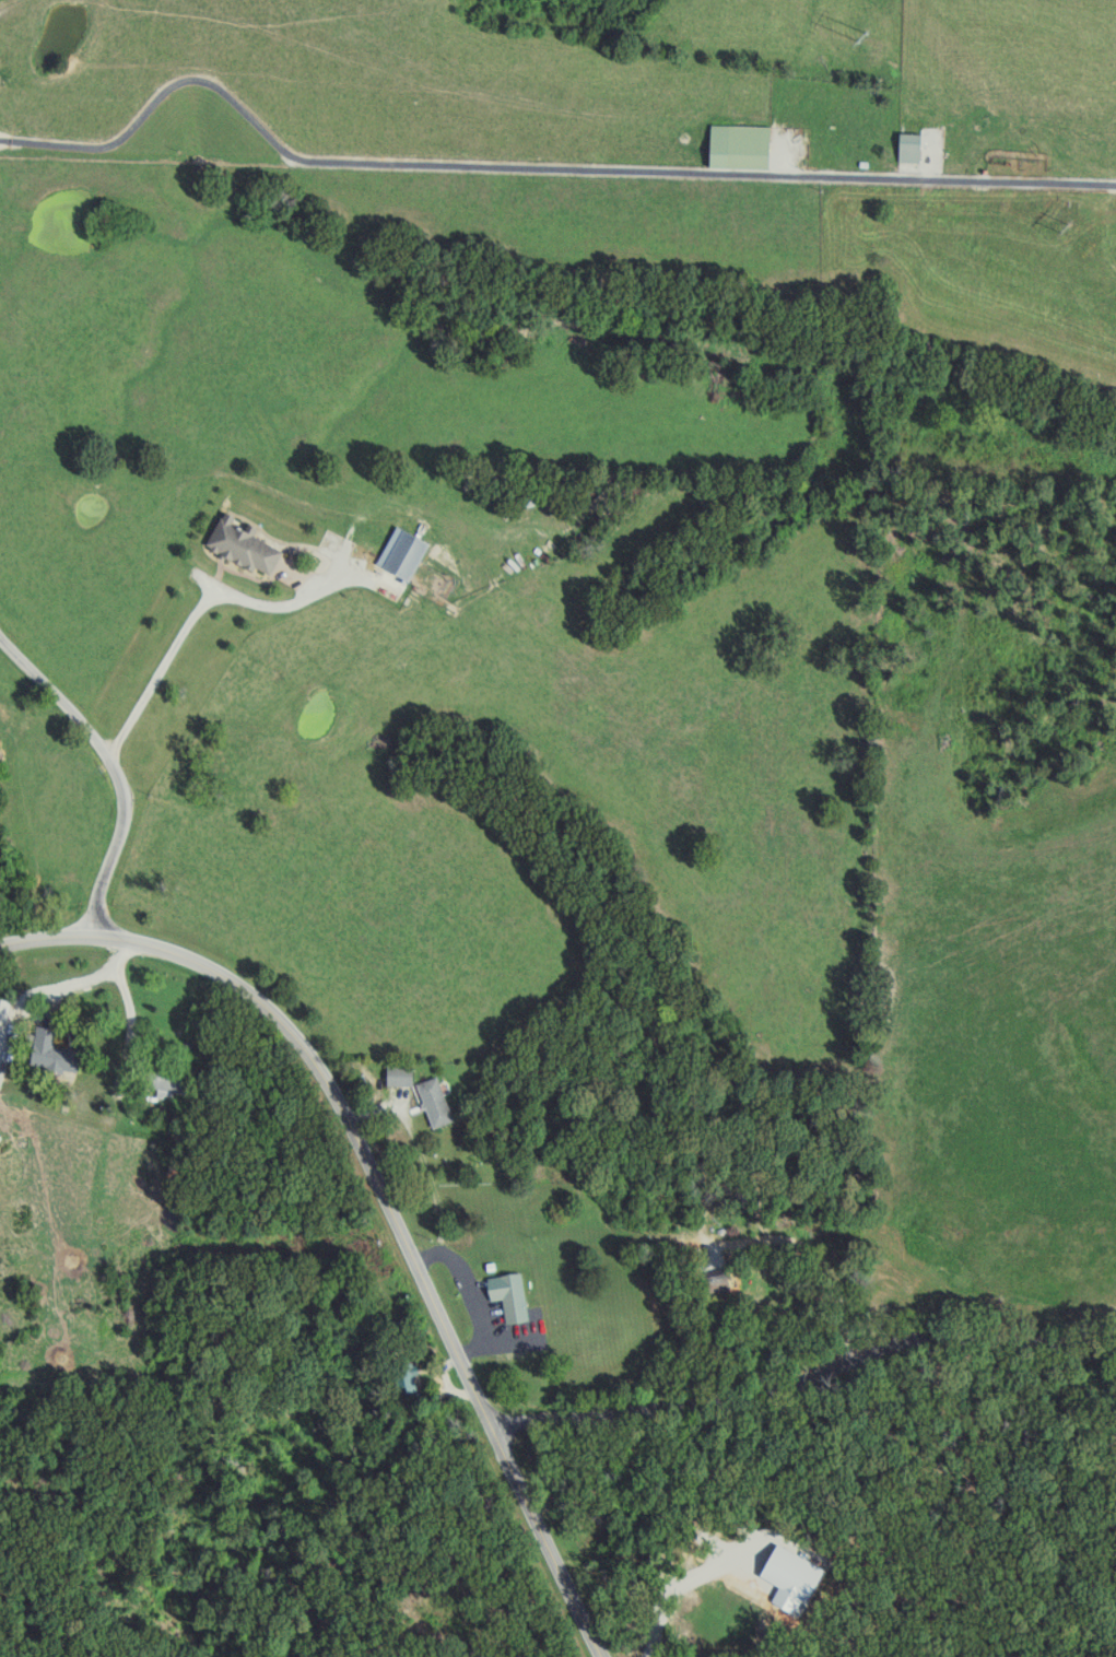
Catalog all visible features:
power tower: (857, 33)
building: (744, 145)
building: (914, 146)
road: (529, 173)
power tower: (1067, 233)
building: (247, 544)
building: (407, 552)
road: (202, 597)
road: (113, 762)
road: (97, 976)
road: (132, 1031)
building: (58, 1053)
building: (402, 1076)
building: (177, 1082)
building: (438, 1102)
road: (432, 1189)
road: (380, 1194)
building: (513, 1296)
road: (473, 1298)
road: (757, 1344)
building: (410, 1378)
road: (807, 1380)
building: (797, 1574)
road: (676, 1583)

